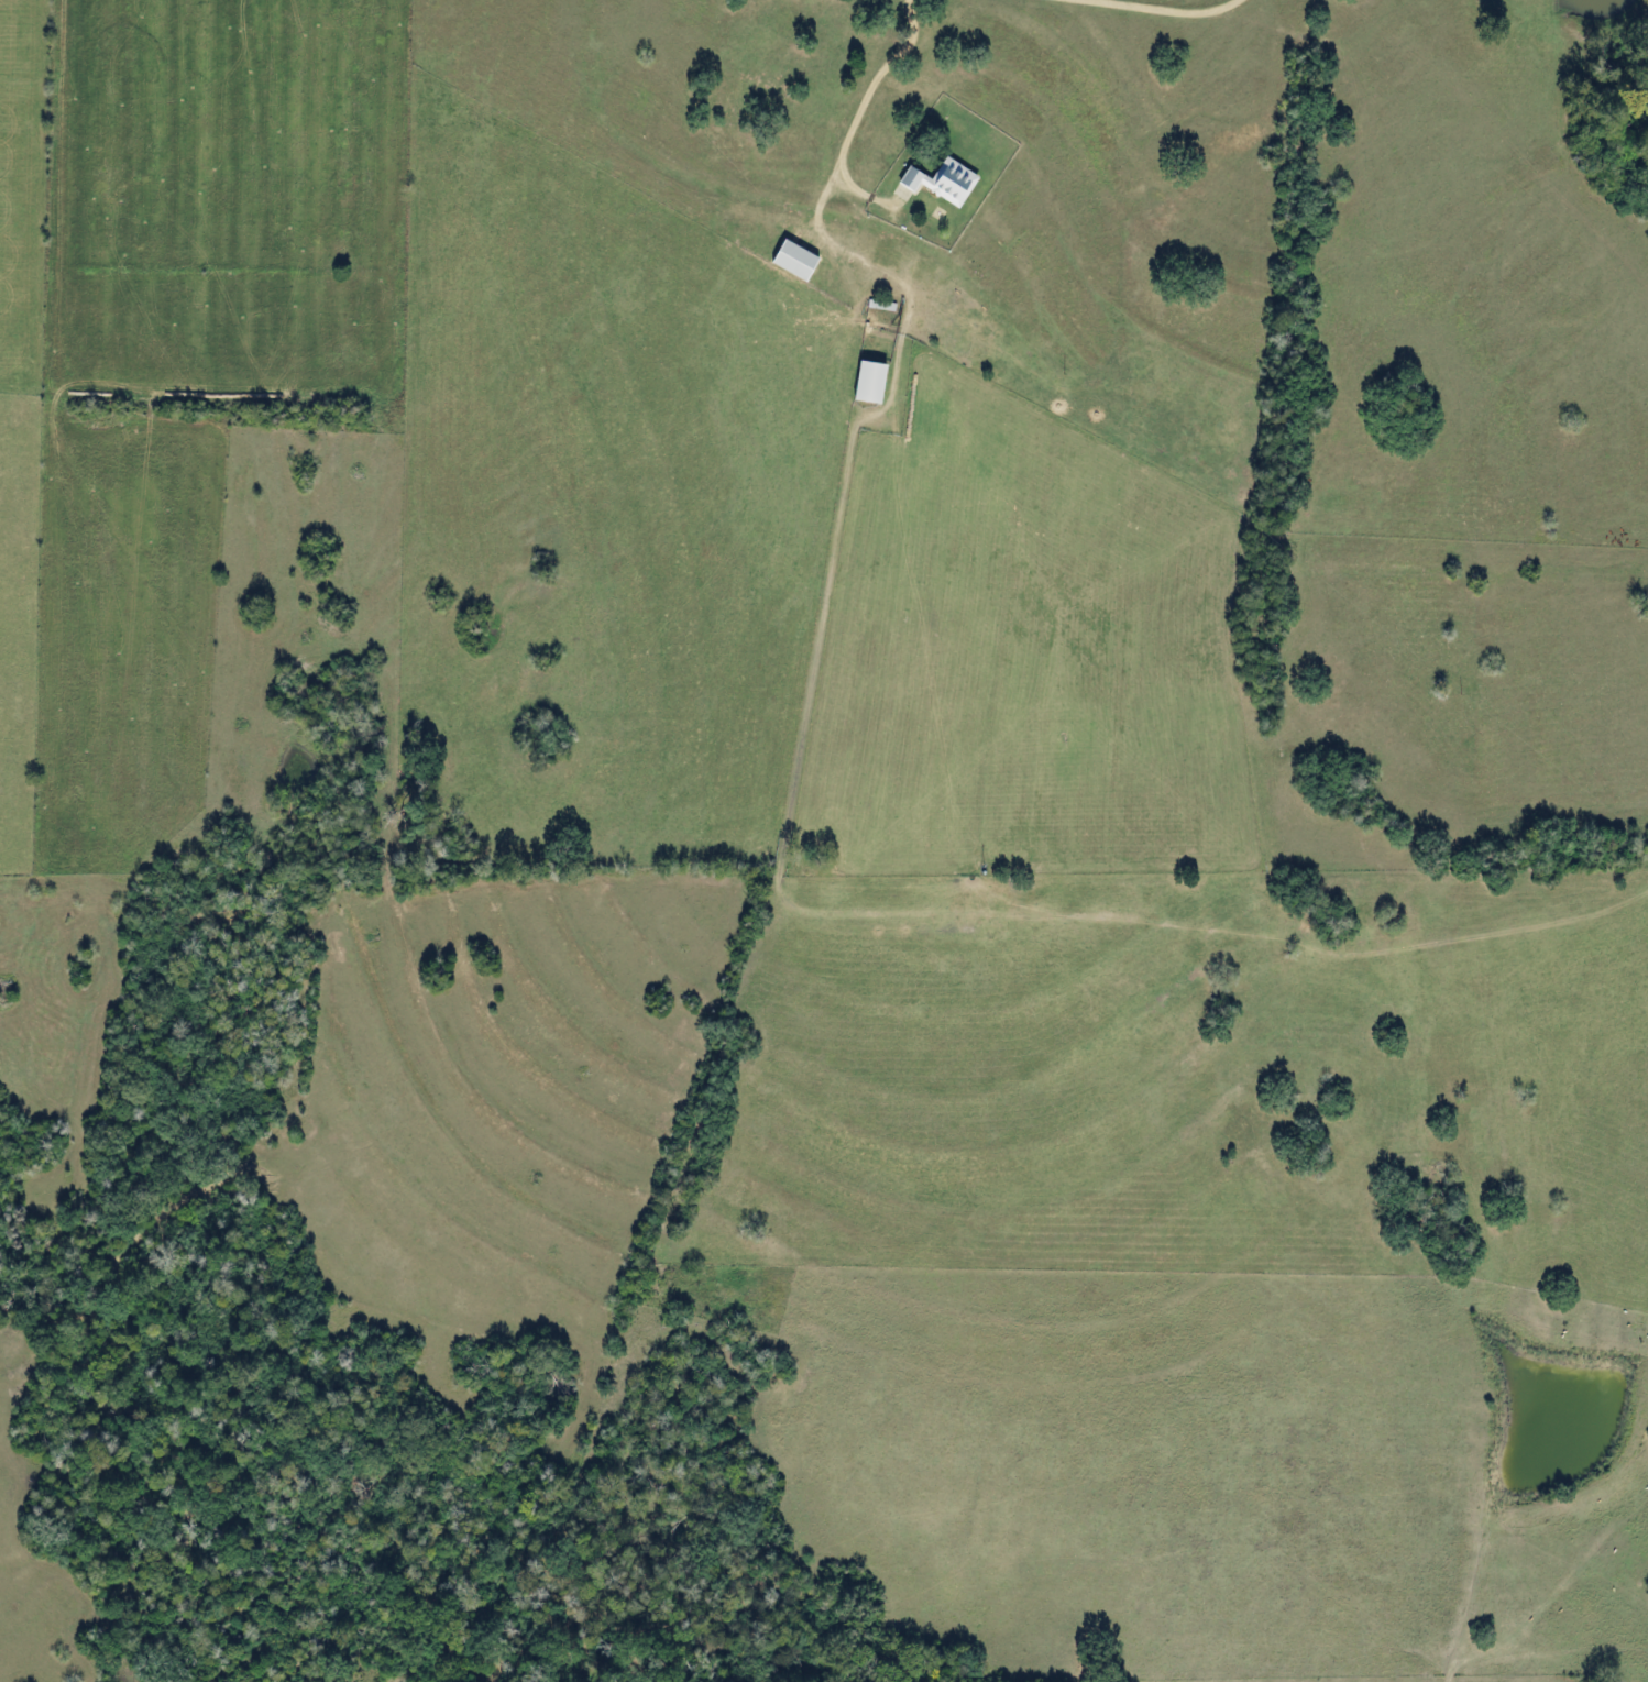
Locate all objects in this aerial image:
building: (931, 183)
building: (787, 261)
building: (861, 383)

